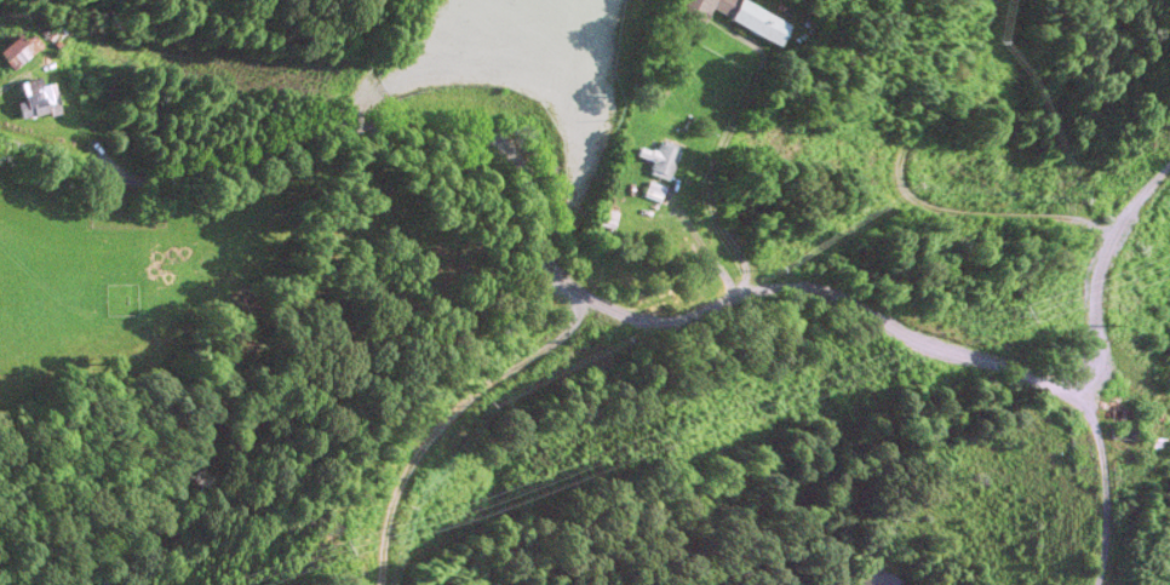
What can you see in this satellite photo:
building: (695, 7)
building: (751, 24)
building: (52, 30)
building: (16, 51)
building: (34, 97)
building: (658, 159)
road: (907, 188)
building: (650, 191)
building: (604, 222)
road: (624, 314)
road: (447, 417)
road: (1103, 487)

